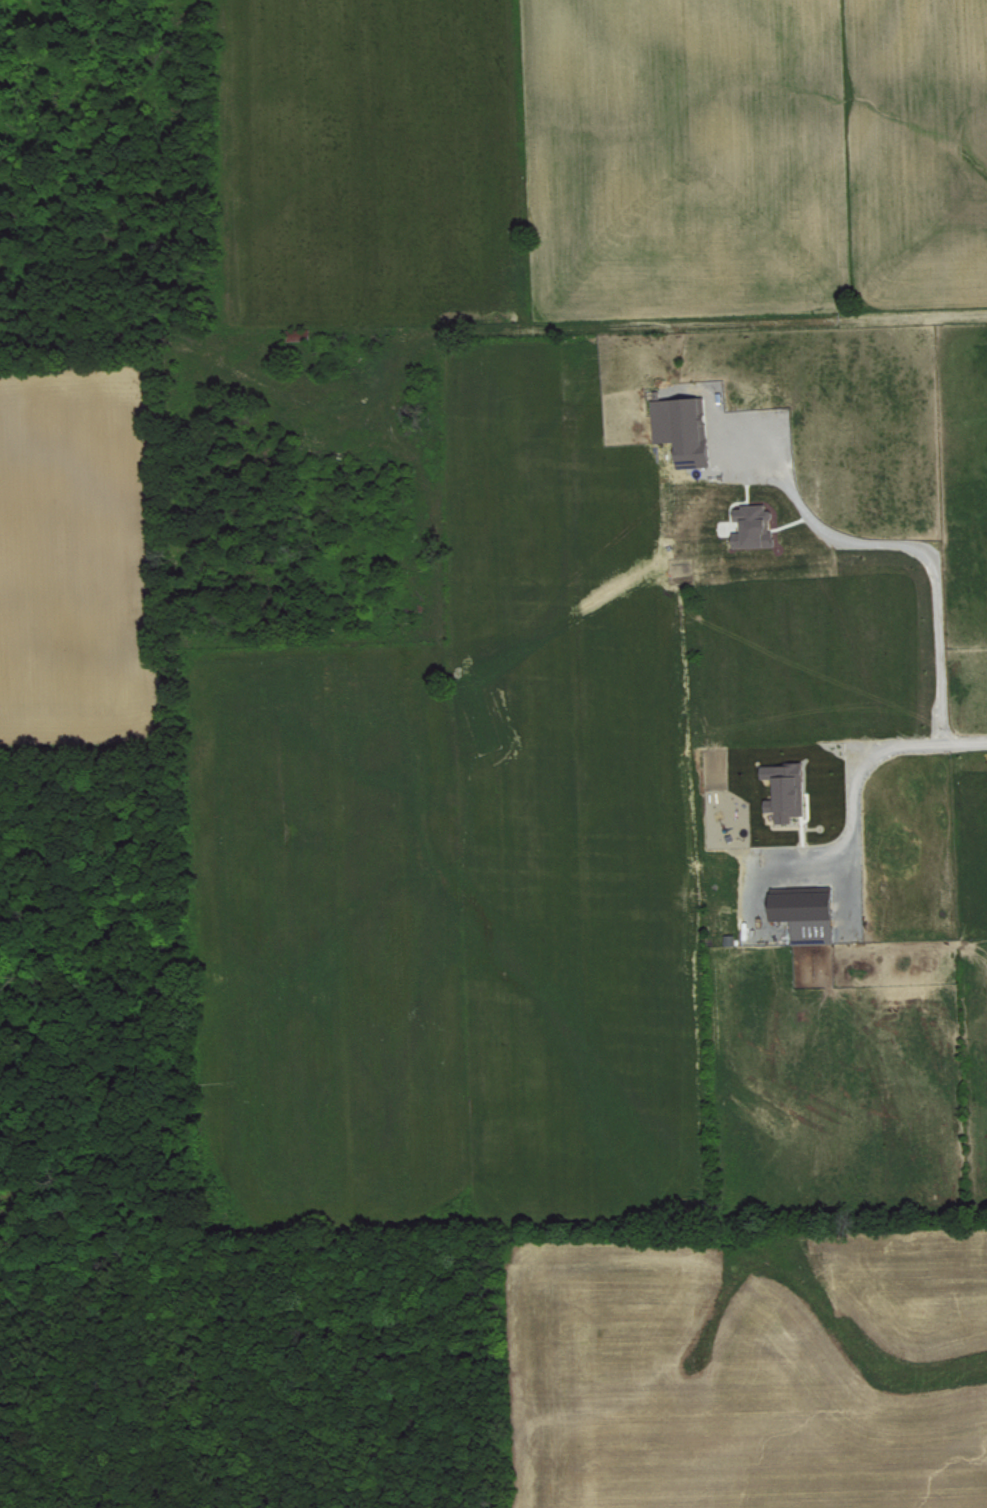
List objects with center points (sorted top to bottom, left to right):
building: (685, 428)
building: (755, 525)
road: (915, 548)
road: (854, 778)
building: (788, 790)
building: (807, 912)

